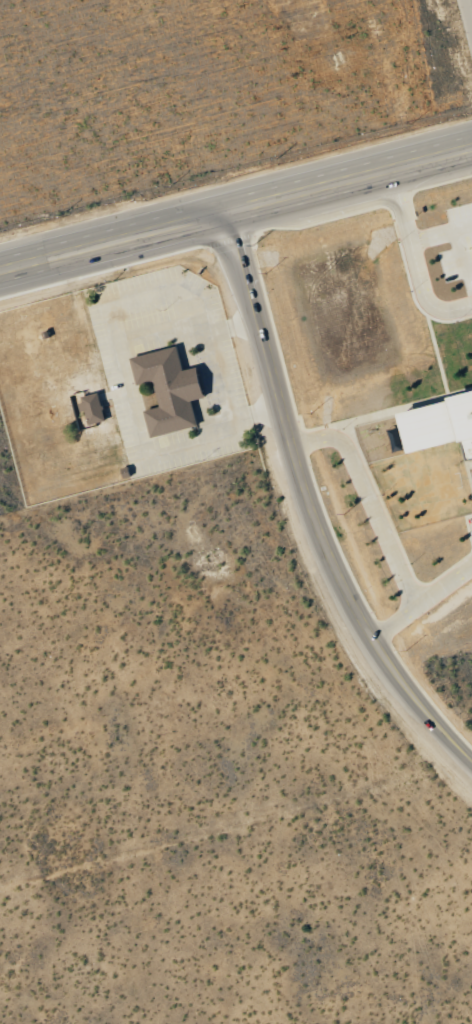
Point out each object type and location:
road: (471, 1)
road: (236, 209)
road: (411, 260)
building: (169, 389)
building: (93, 407)
building: (442, 424)
building: (127, 472)
road: (307, 516)
road: (378, 524)
road: (442, 581)

